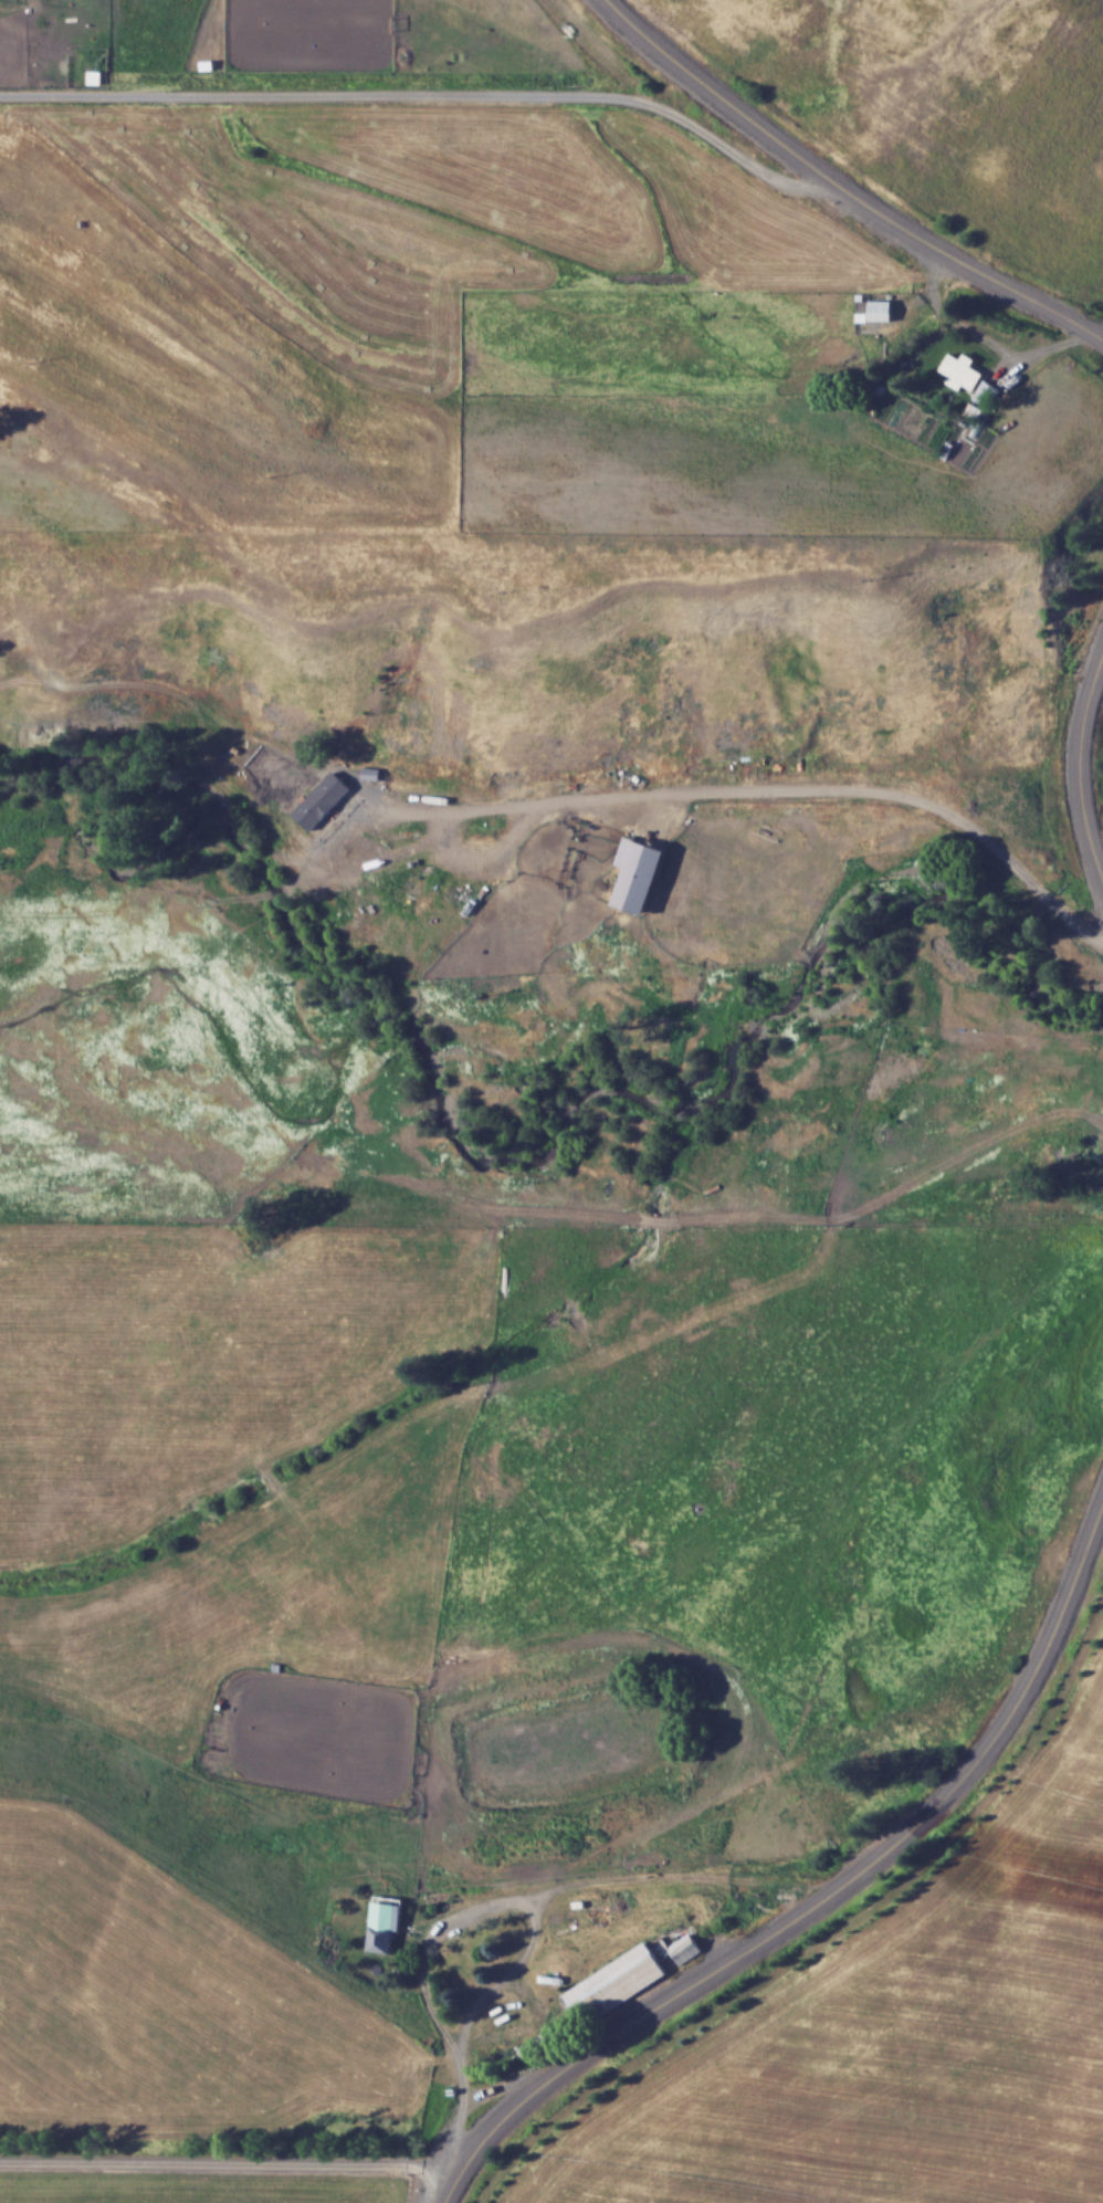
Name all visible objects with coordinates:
road: (426, 93)
road: (844, 185)
building: (881, 310)
road: (988, 336)
building: (962, 371)
building: (987, 394)
building: (975, 412)
road: (1079, 763)
road: (765, 787)
building: (359, 852)
building: (419, 903)
road: (824, 1897)
road: (500, 1900)
building: (382, 1924)
building: (626, 1975)
road: (221, 2160)

